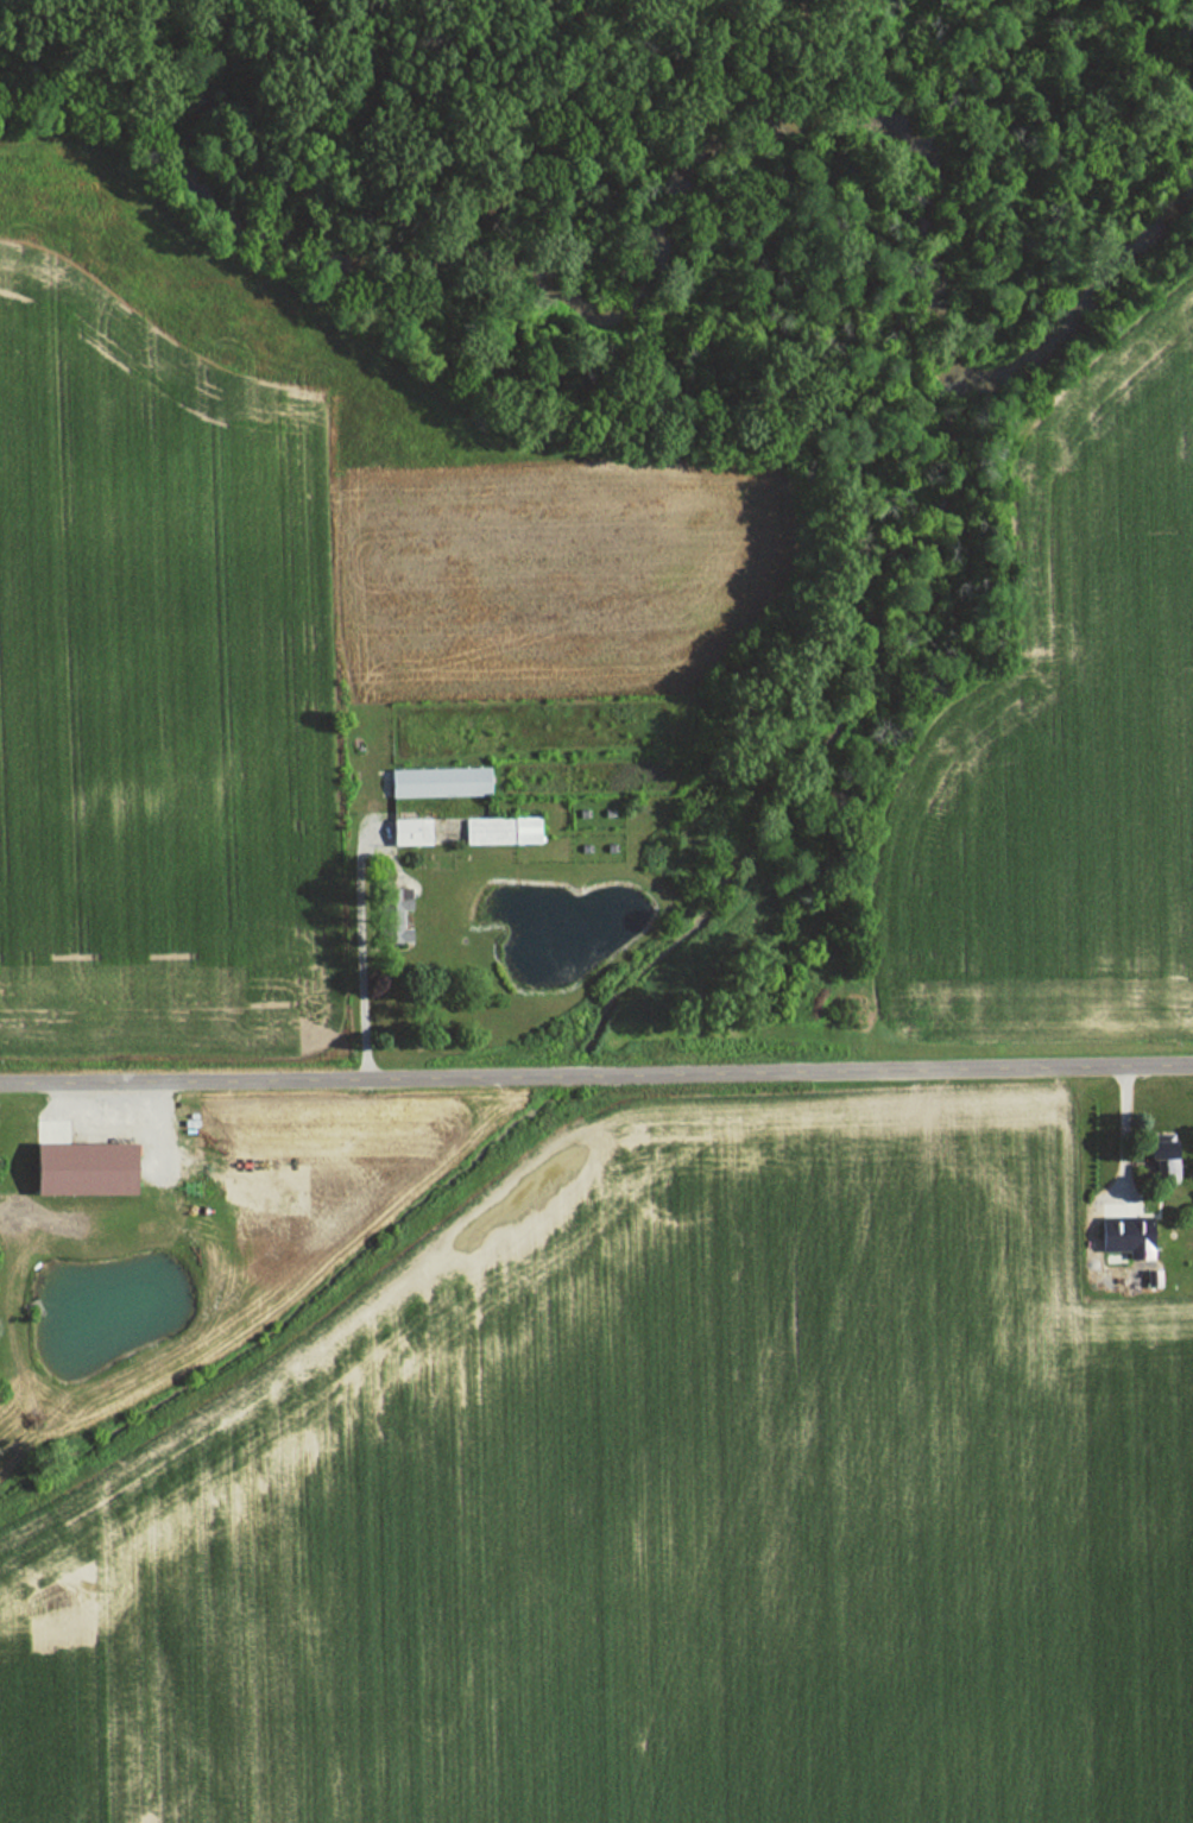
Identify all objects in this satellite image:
building: (434, 782)
building: (497, 831)
building: (404, 832)
building: (389, 915)
road: (361, 954)
road: (595, 1071)
building: (74, 1169)
crop: (661, 1529)

